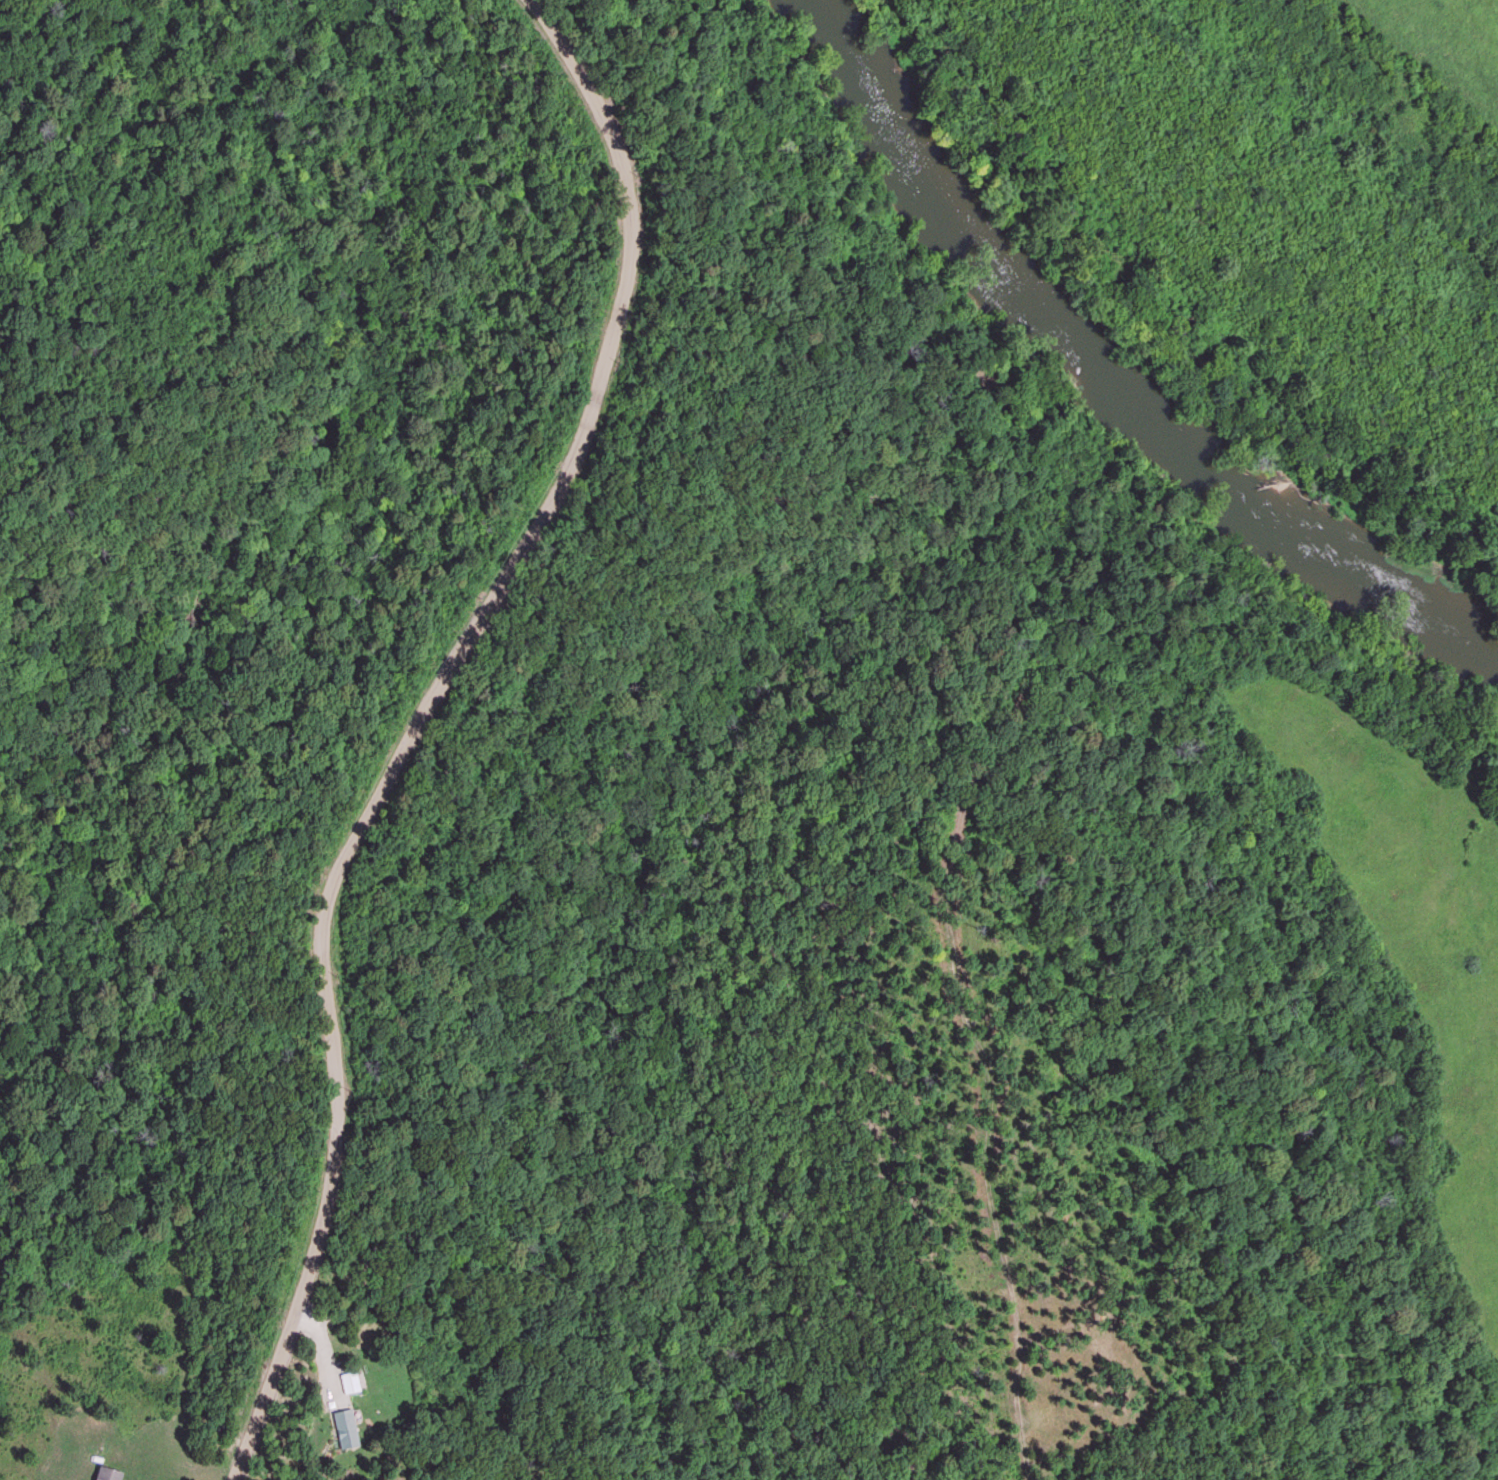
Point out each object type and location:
river: (1100, 381)
road: (405, 729)
building: (349, 1383)
building: (344, 1429)
building: (108, 1474)

